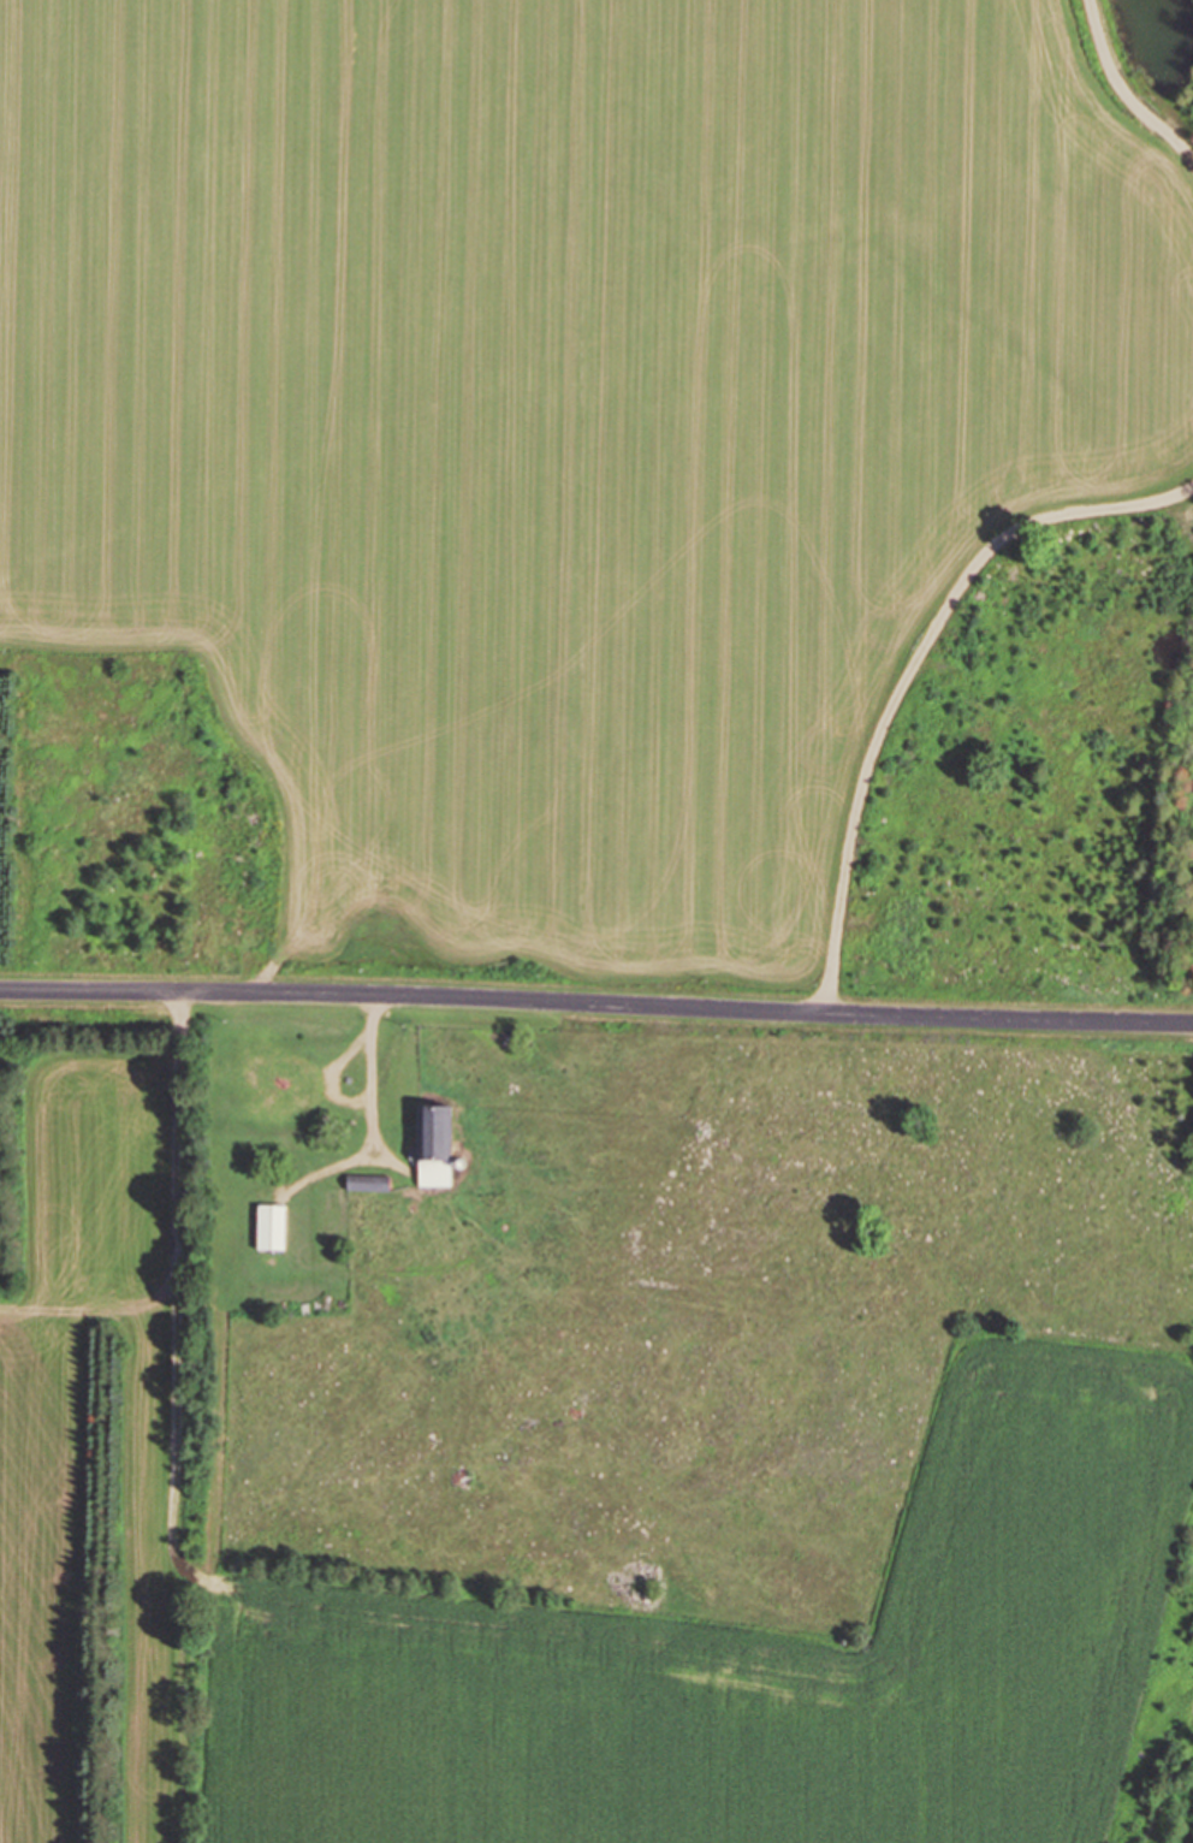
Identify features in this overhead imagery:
road: (596, 1003)
building: (296, 1078)
building: (431, 1143)
building: (268, 1226)
road: (196, 1417)

